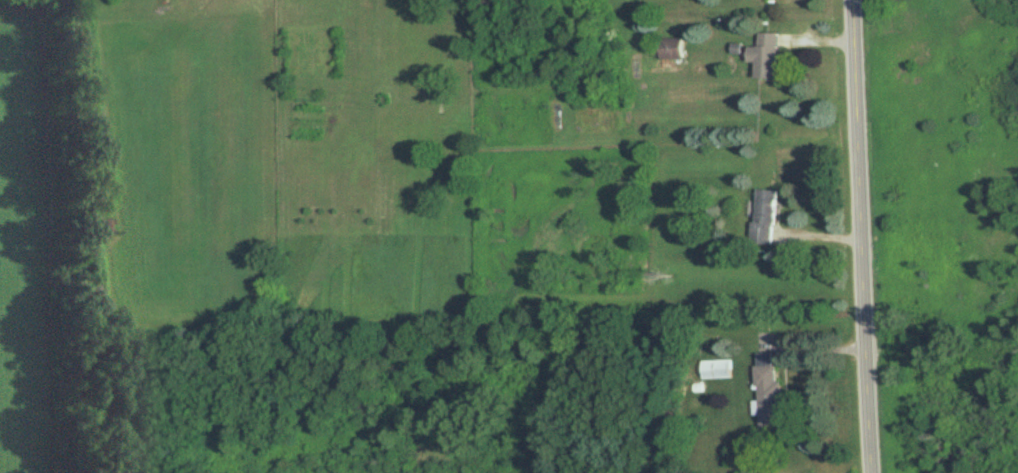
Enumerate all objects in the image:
building: (671, 48)
building: (764, 55)
building: (764, 216)
road: (855, 236)
building: (715, 369)
building: (767, 391)

